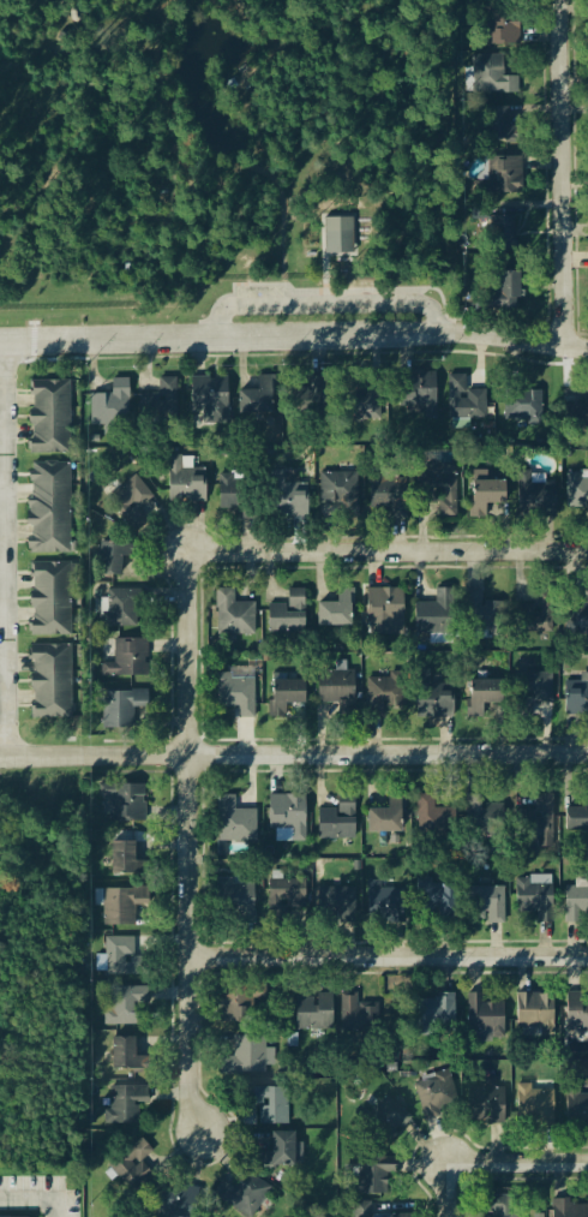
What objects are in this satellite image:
building: (502, 29)
building: (490, 74)
building: (498, 126)
road: (559, 175)
building: (502, 178)
building: (505, 225)
building: (341, 237)
building: (505, 292)
road: (326, 305)
road: (294, 339)
building: (418, 390)
building: (319, 396)
building: (210, 398)
building: (160, 401)
building: (256, 402)
building: (365, 404)
building: (522, 405)
building: (470, 407)
building: (110, 408)
building: (578, 408)
building: (49, 418)
building: (186, 487)
building: (440, 488)
building: (337, 489)
building: (577, 491)
building: (386, 493)
building: (486, 494)
building: (236, 496)
building: (535, 499)
building: (288, 501)
building: (131, 503)
building: (49, 509)
road: (5, 550)
road: (386, 554)
building: (114, 557)
building: (50, 601)
building: (122, 607)
building: (385, 609)
building: (475, 612)
building: (494, 612)
building: (544, 612)
building: (334, 614)
building: (436, 614)
building: (287, 615)
building: (516, 615)
building: (233, 616)
building: (577, 620)
building: (127, 660)
building: (50, 682)
building: (546, 688)
building: (337, 691)
building: (236, 692)
building: (286, 696)
building: (385, 696)
building: (484, 696)
building: (577, 698)
building: (536, 700)
building: (437, 703)
building: (121, 708)
road: (293, 746)
building: (122, 804)
building: (577, 817)
building: (386, 818)
building: (433, 818)
building: (484, 818)
building: (287, 819)
building: (235, 822)
building: (337, 822)
building: (535, 823)
road: (188, 848)
building: (126, 861)
building: (534, 896)
building: (283, 900)
building: (433, 900)
building: (238, 901)
building: (487, 902)
building: (384, 903)
building: (122, 906)
building: (575, 906)
building: (348, 907)
road: (389, 948)
building: (124, 959)
building: (239, 1002)
building: (127, 1007)
building: (535, 1013)
building: (577, 1013)
building: (314, 1014)
building: (358, 1016)
building: (437, 1016)
building: (484, 1020)
building: (127, 1057)
building: (248, 1058)
building: (436, 1096)
building: (126, 1104)
building: (268, 1104)
building: (487, 1104)
building: (535, 1105)
building: (576, 1108)
building: (385, 1120)
building: (280, 1153)
road: (517, 1163)
building: (132, 1170)
building: (374, 1175)
road: (445, 1189)
building: (241, 1194)
road: (35, 1198)
building: (186, 1201)
building: (500, 1206)
building: (570, 1210)
building: (394, 1216)

